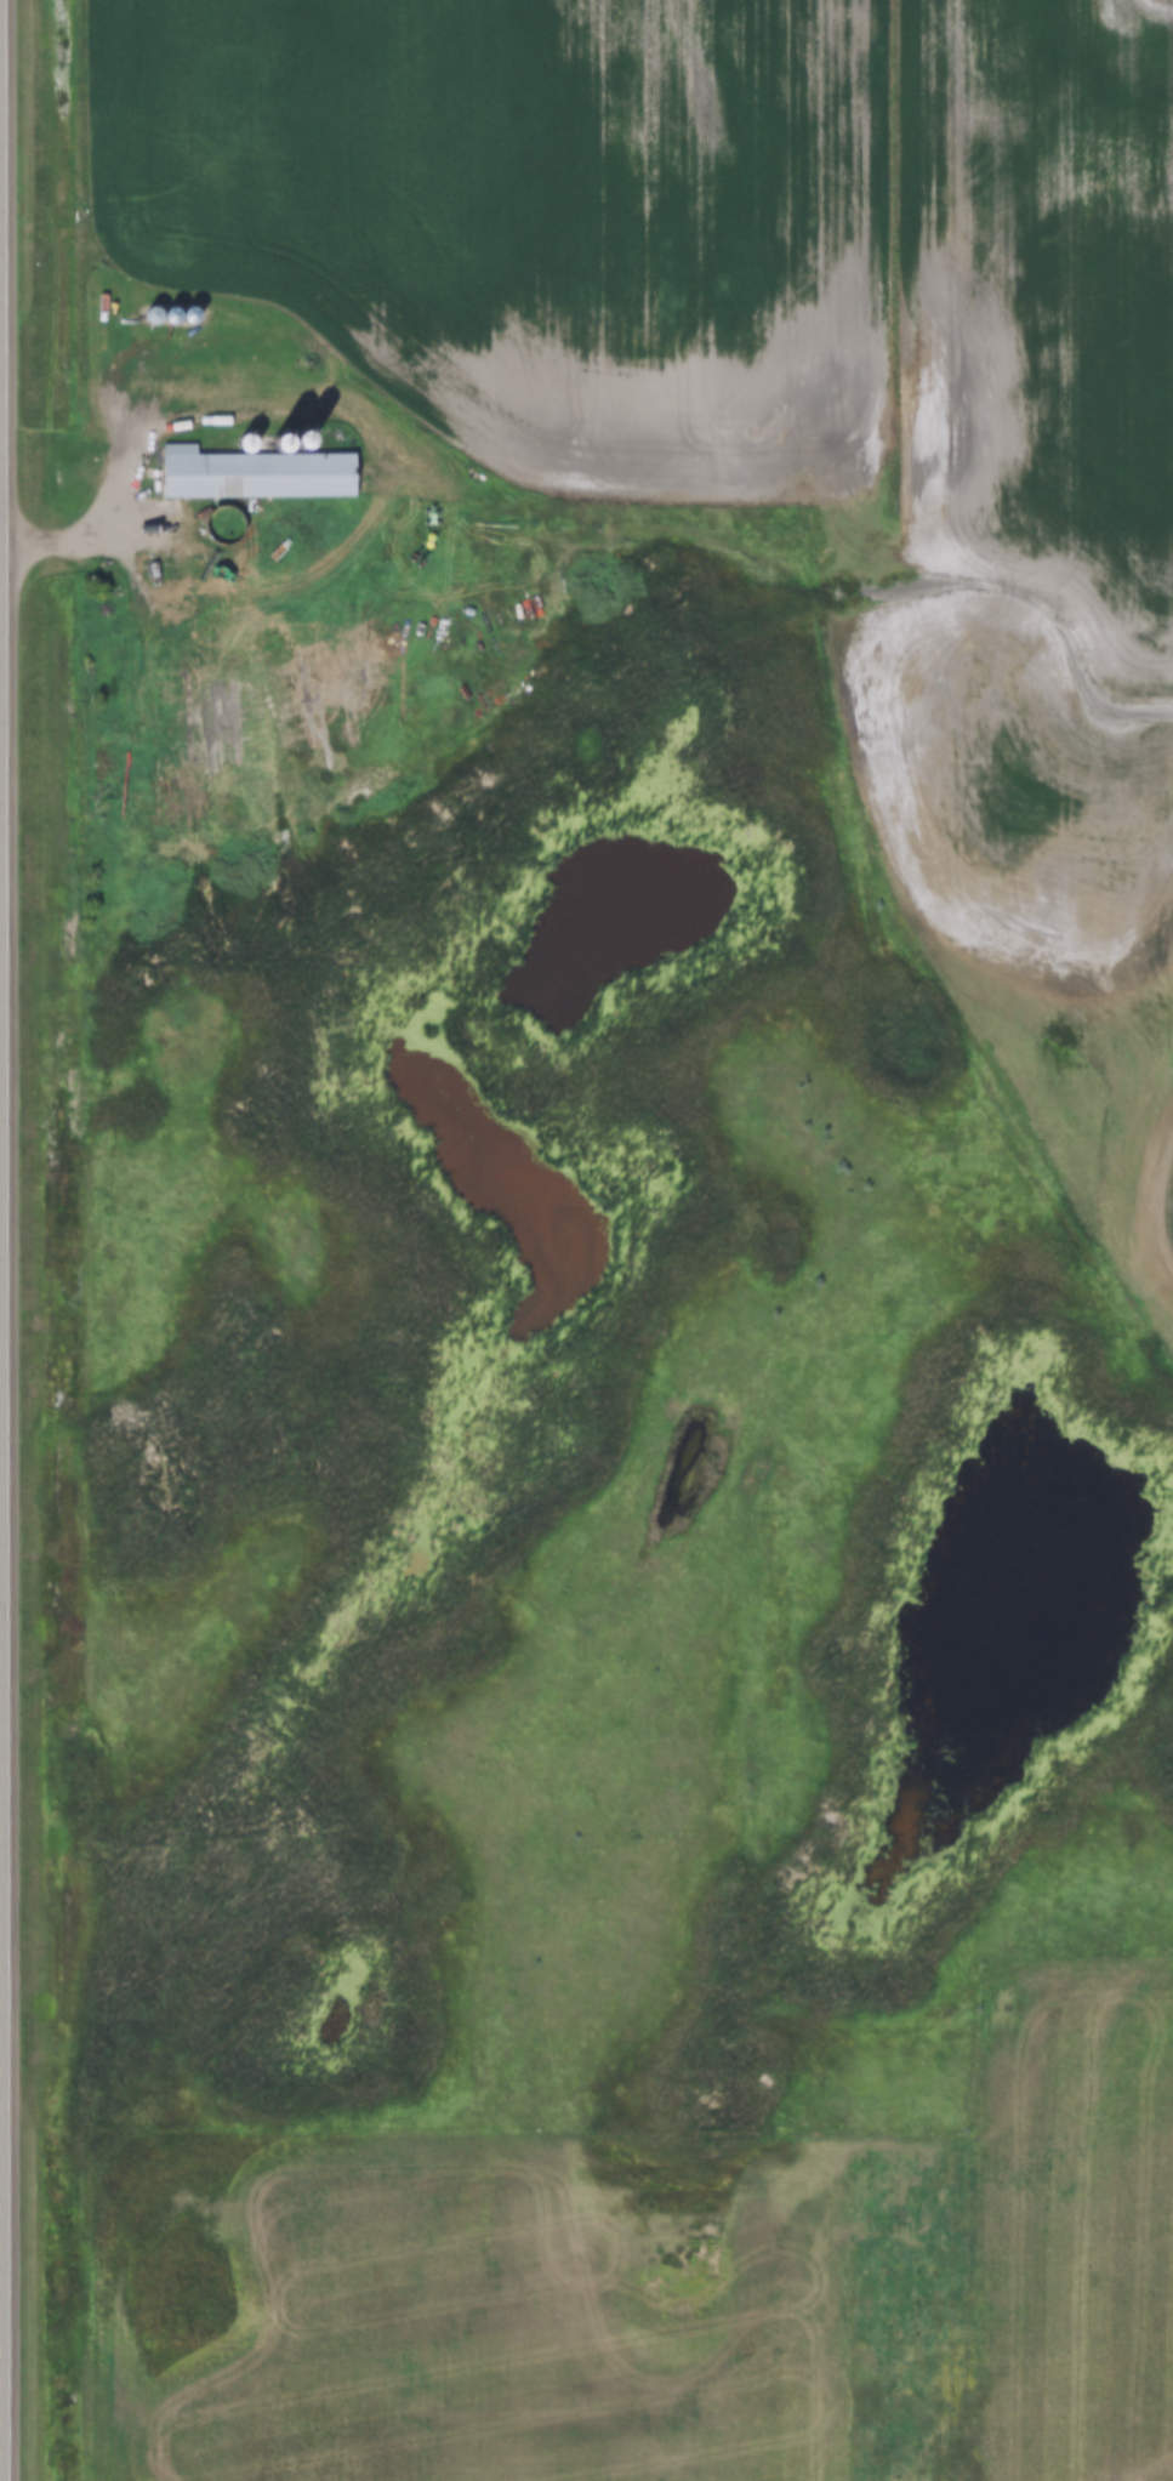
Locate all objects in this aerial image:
road: (149, 438)
building: (281, 442)
silo: (281, 442)
building: (304, 442)
silo: (304, 442)
building: (249, 444)
silo: (249, 444)
building: (254, 473)

